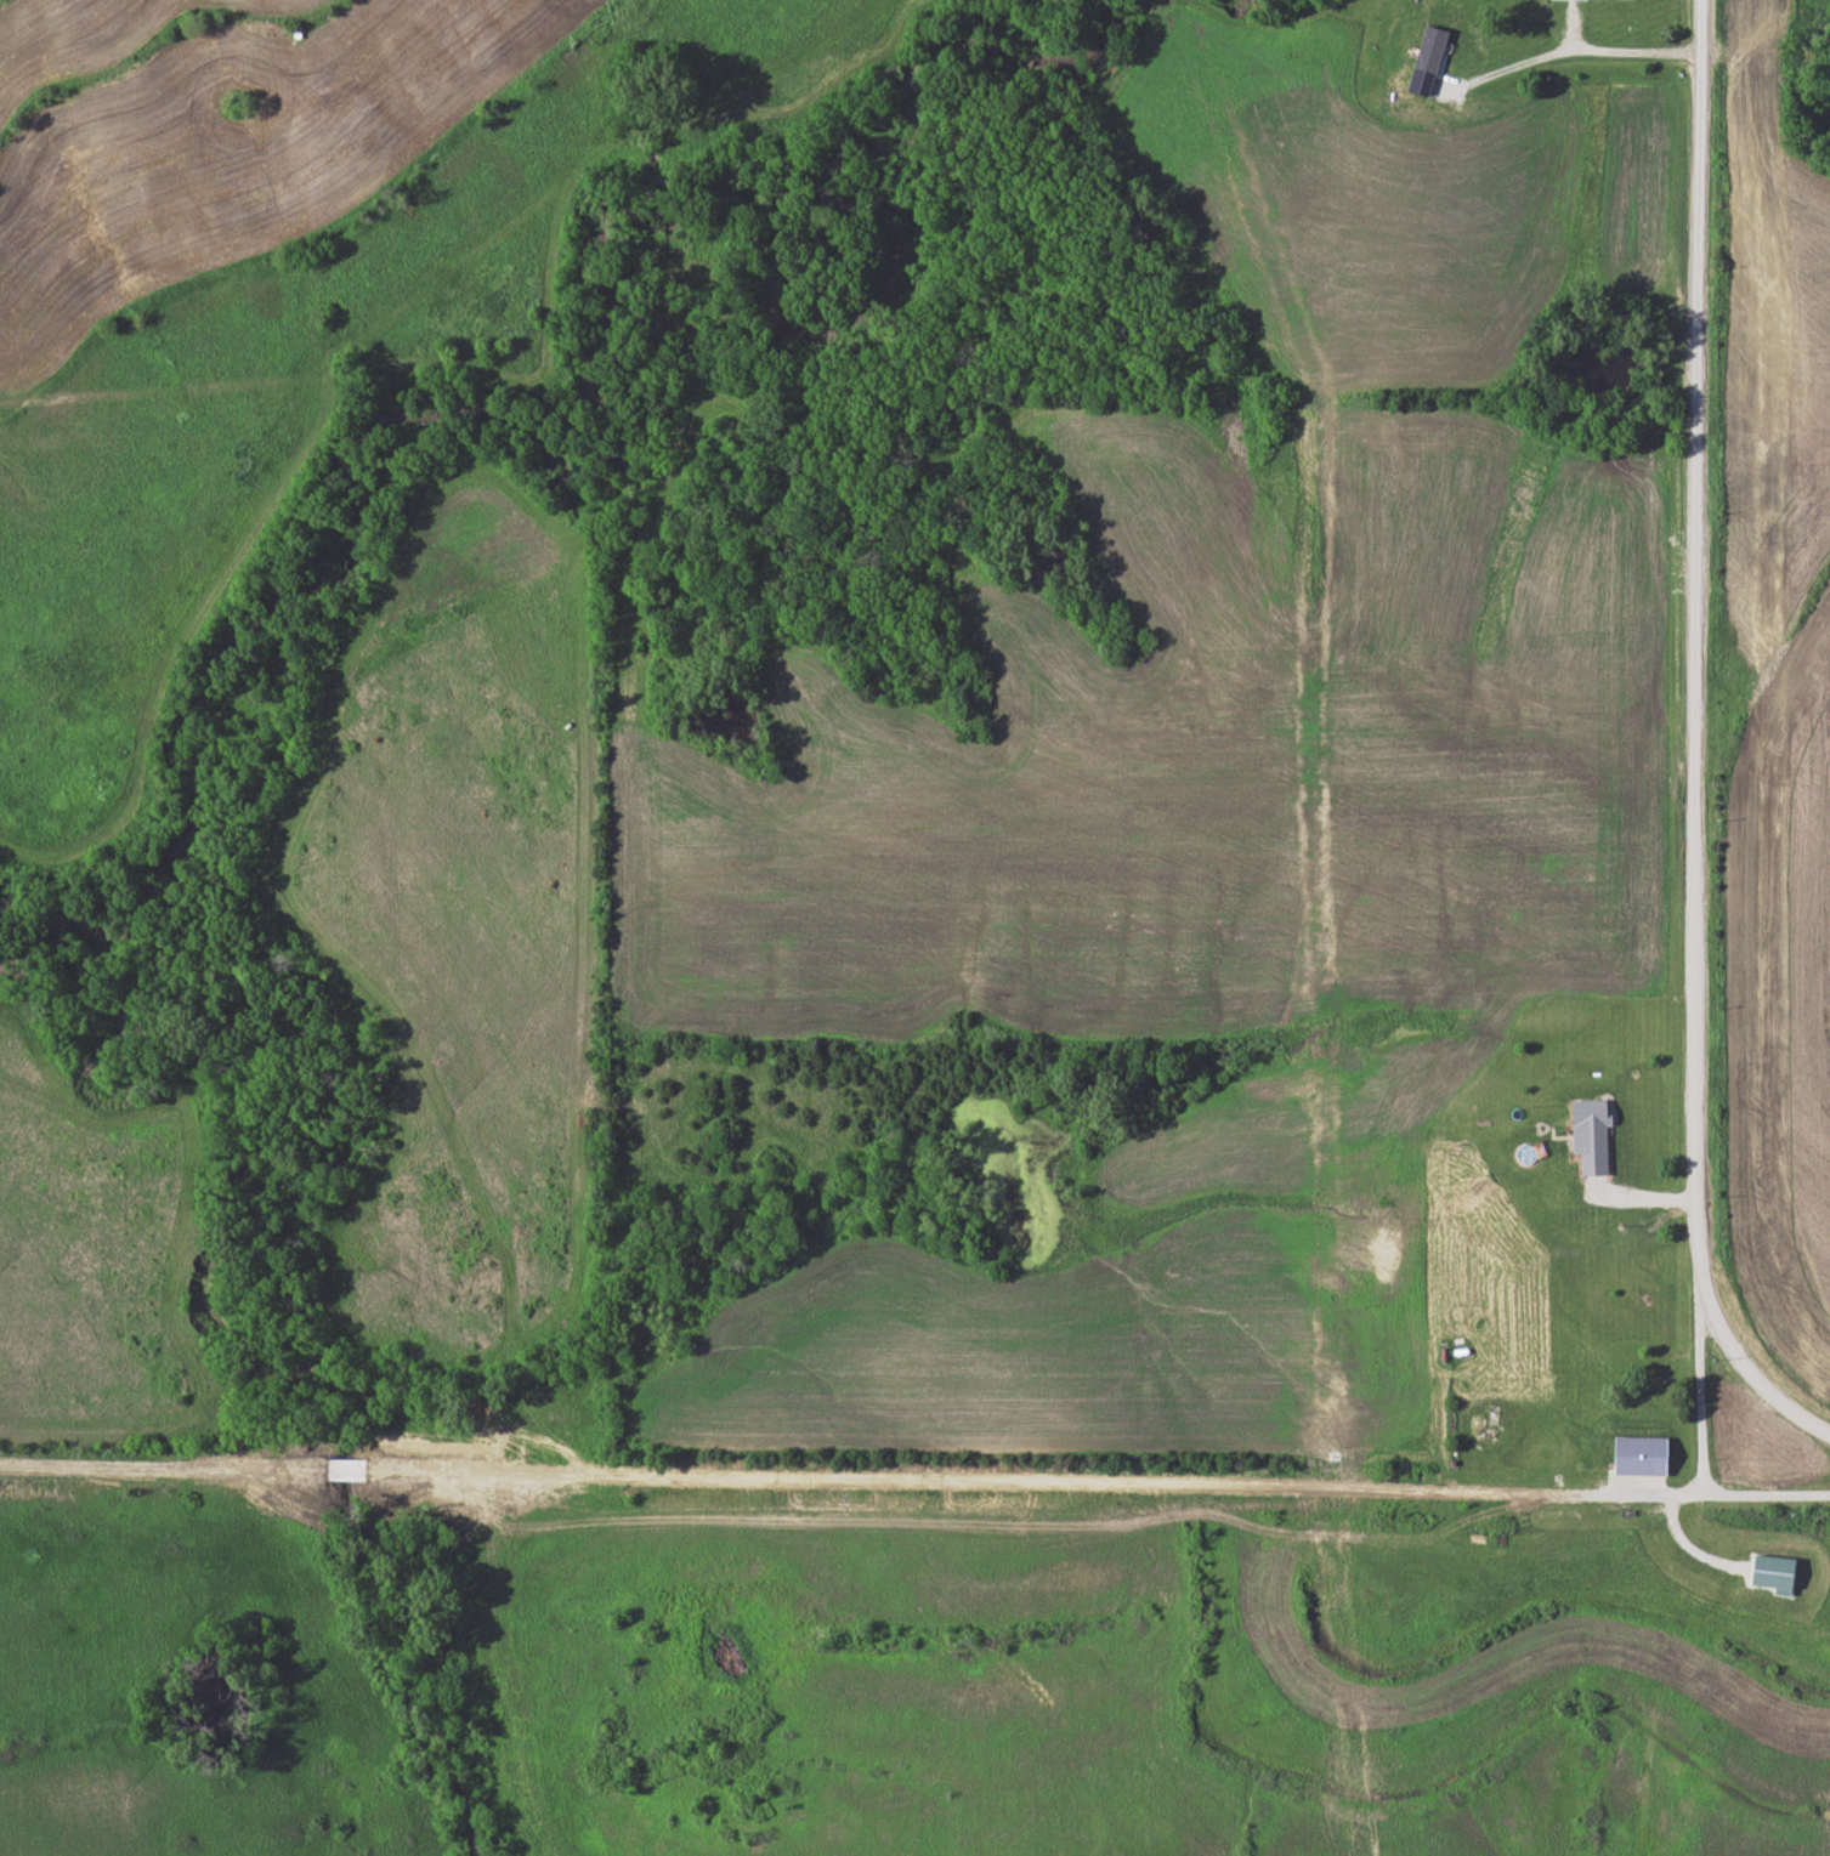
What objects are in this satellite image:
building: (1466, 46)
road: (1699, 742)
building: (1593, 1136)
road: (1699, 1383)
building: (1494, 1417)
road: (914, 1482)

